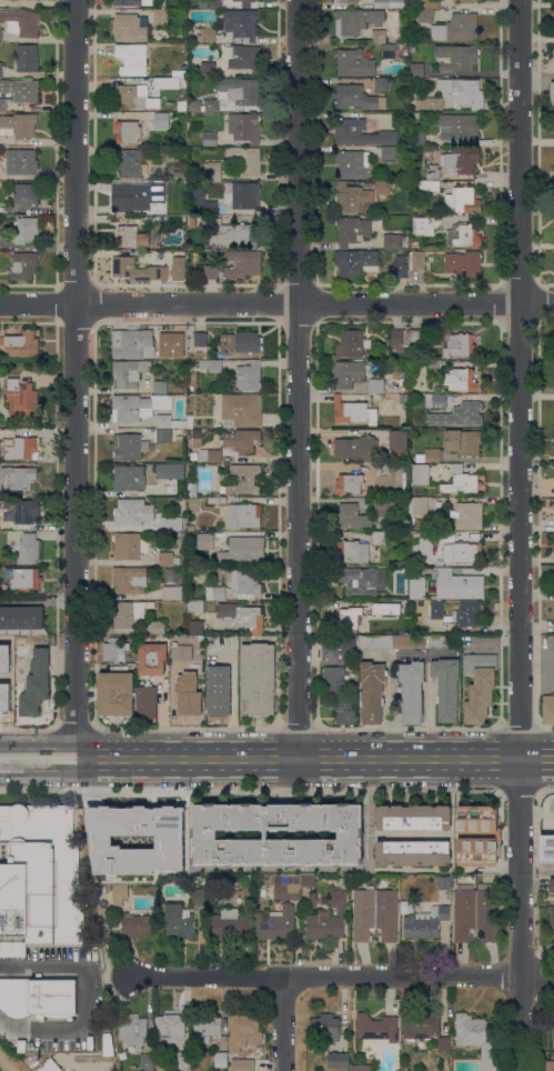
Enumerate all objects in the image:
building: (465, 0)
building: (346, 1)
building: (128, 2)
building: (245, 2)
building: (203, 3)
building: (389, 3)
building: (432, 3)
building: (214, 4)
building: (423, 14)
building: (160, 17)
building: (22, 21)
building: (354, 21)
building: (234, 26)
building: (130, 27)
building: (457, 28)
building: (0, 34)
building: (379, 36)
building: (412, 47)
building: (390, 51)
building: (27, 58)
building: (245, 58)
building: (461, 58)
building: (132, 59)
building: (354, 62)
building: (1, 69)
building: (208, 69)
building: (417, 70)
building: (179, 73)
building: (155, 82)
building: (381, 84)
building: (21, 89)
building: (240, 90)
building: (463, 91)
building: (552, 94)
building: (134, 97)
building: (356, 98)
building: (432, 103)
building: (2, 104)
building: (203, 106)
building: (161, 120)
building: (19, 124)
building: (459, 126)
building: (244, 127)
building: (128, 132)
building: (362, 132)
building: (210, 139)
building: (417, 139)
building: (389, 152)
building: (250, 160)
building: (460, 160)
building: (21, 161)
building: (131, 163)
building: (351, 164)
building: (213, 170)
building: (432, 171)
building: (429, 184)
building: (381, 187)
building: (26, 194)
building: (242, 194)
building: (139, 199)
building: (352, 199)
building: (200, 200)
building: (463, 200)
building: (157, 221)
building: (193, 222)
building: (426, 224)
building: (27, 230)
building: (352, 231)
building: (232, 232)
building: (127, 236)
building: (463, 236)
building: (392, 241)
building: (415, 244)
building: (161, 252)
building: (140, 253)
building: (417, 260)
building: (356, 262)
building: (243, 263)
building: (464, 263)
building: (24, 266)
building: (401, 267)
building: (178, 268)
building: (137, 269)
building: (211, 272)
road: (276, 303)
building: (199, 338)
building: (400, 340)
building: (241, 341)
building: (415, 341)
building: (22, 343)
building: (132, 343)
building: (178, 343)
building: (350, 343)
building: (459, 344)
building: (432, 363)
building: (211, 364)
building: (130, 371)
building: (347, 373)
building: (249, 377)
road: (80, 378)
road: (291, 378)
building: (460, 380)
building: (375, 386)
building: (161, 387)
building: (21, 398)
building: (403, 398)
building: (435, 400)
building: (138, 407)
building: (241, 410)
building: (353, 411)
building: (459, 414)
building: (190, 420)
building: (169, 421)
building: (197, 432)
building: (163, 434)
building: (397, 439)
building: (241, 440)
building: (462, 441)
building: (128, 447)
building: (357, 448)
building: (22, 449)
building: (208, 454)
building: (429, 456)
building: (383, 469)
building: (170, 471)
building: (421, 474)
building: (129, 477)
building: (224, 477)
building: (17, 478)
building: (243, 479)
building: (461, 481)
building: (347, 483)
building: (192, 490)
building: (216, 494)
building: (216, 501)
building: (193, 502)
building: (382, 506)
building: (419, 506)
building: (20, 511)
building: (132, 512)
building: (244, 516)
building: (465, 516)
building: (352, 517)
building: (170, 523)
building: (191, 528)
road: (523, 535)
building: (215, 537)
building: (377, 538)
building: (203, 540)
building: (129, 545)
building: (422, 547)
building: (29, 548)
building: (249, 548)
building: (351, 551)
building: (462, 552)
building: (168, 559)
building: (439, 562)
building: (170, 574)
building: (23, 578)
building: (130, 579)
building: (357, 580)
building: (245, 583)
building: (459, 584)
building: (416, 588)
building: (172, 592)
building: (215, 593)
building: (195, 605)
building: (386, 607)
building: (456, 612)
building: (129, 613)
building: (404, 613)
building: (241, 617)
building: (347, 618)
building: (21, 619)
building: (197, 627)
building: (159, 628)
building: (374, 640)
building: (409, 641)
building: (443, 641)
building: (347, 644)
building: (330, 649)
building: (115, 650)
building: (182, 652)
building: (152, 659)
building: (258, 678)
building: (334, 679)
building: (37, 683)
building: (480, 685)
building: (446, 688)
building: (218, 690)
building: (372, 691)
building: (411, 691)
building: (115, 693)
building: (188, 694)
building: (6, 700)
building: (147, 702)
road: (392, 707)
building: (548, 709)
building: (343, 711)
road: (262, 758)
road: (538, 758)
building: (413, 817)
building: (168, 828)
building: (205, 833)
building: (476, 834)
building: (547, 849)
building: (123, 850)
building: (414, 852)
building: (182, 860)
road: (540, 867)
building: (40, 874)
building: (211, 880)
building: (309, 880)
building: (444, 882)
building: (552, 884)
building: (119, 894)
building: (199, 895)
building: (312, 901)
building: (406, 907)
building: (289, 908)
building: (476, 911)
building: (375, 913)
building: (552, 918)
building: (328, 919)
building: (179, 921)
building: (425, 922)
building: (137, 924)
building: (230, 924)
building: (12, 949)
road: (343, 977)
road: (110, 987)
building: (38, 997)
road: (84, 999)
road: (444, 1001)
road: (281, 1023)
building: (553, 1024)
building: (326, 1025)
building: (420, 1025)
building: (132, 1028)
building: (170, 1028)
building: (205, 1028)
building: (377, 1028)
building: (243, 1030)
building: (477, 1037)
building: (444, 1043)
building: (553, 1043)
building: (108, 1044)
building: (22, 1045)
building: (183, 1059)
building: (221, 1059)
building: (339, 1059)
building: (147, 1060)
road: (7, 1063)
building: (242, 1064)
building: (49, 1065)
building: (548, 1065)
building: (360, 1068)

